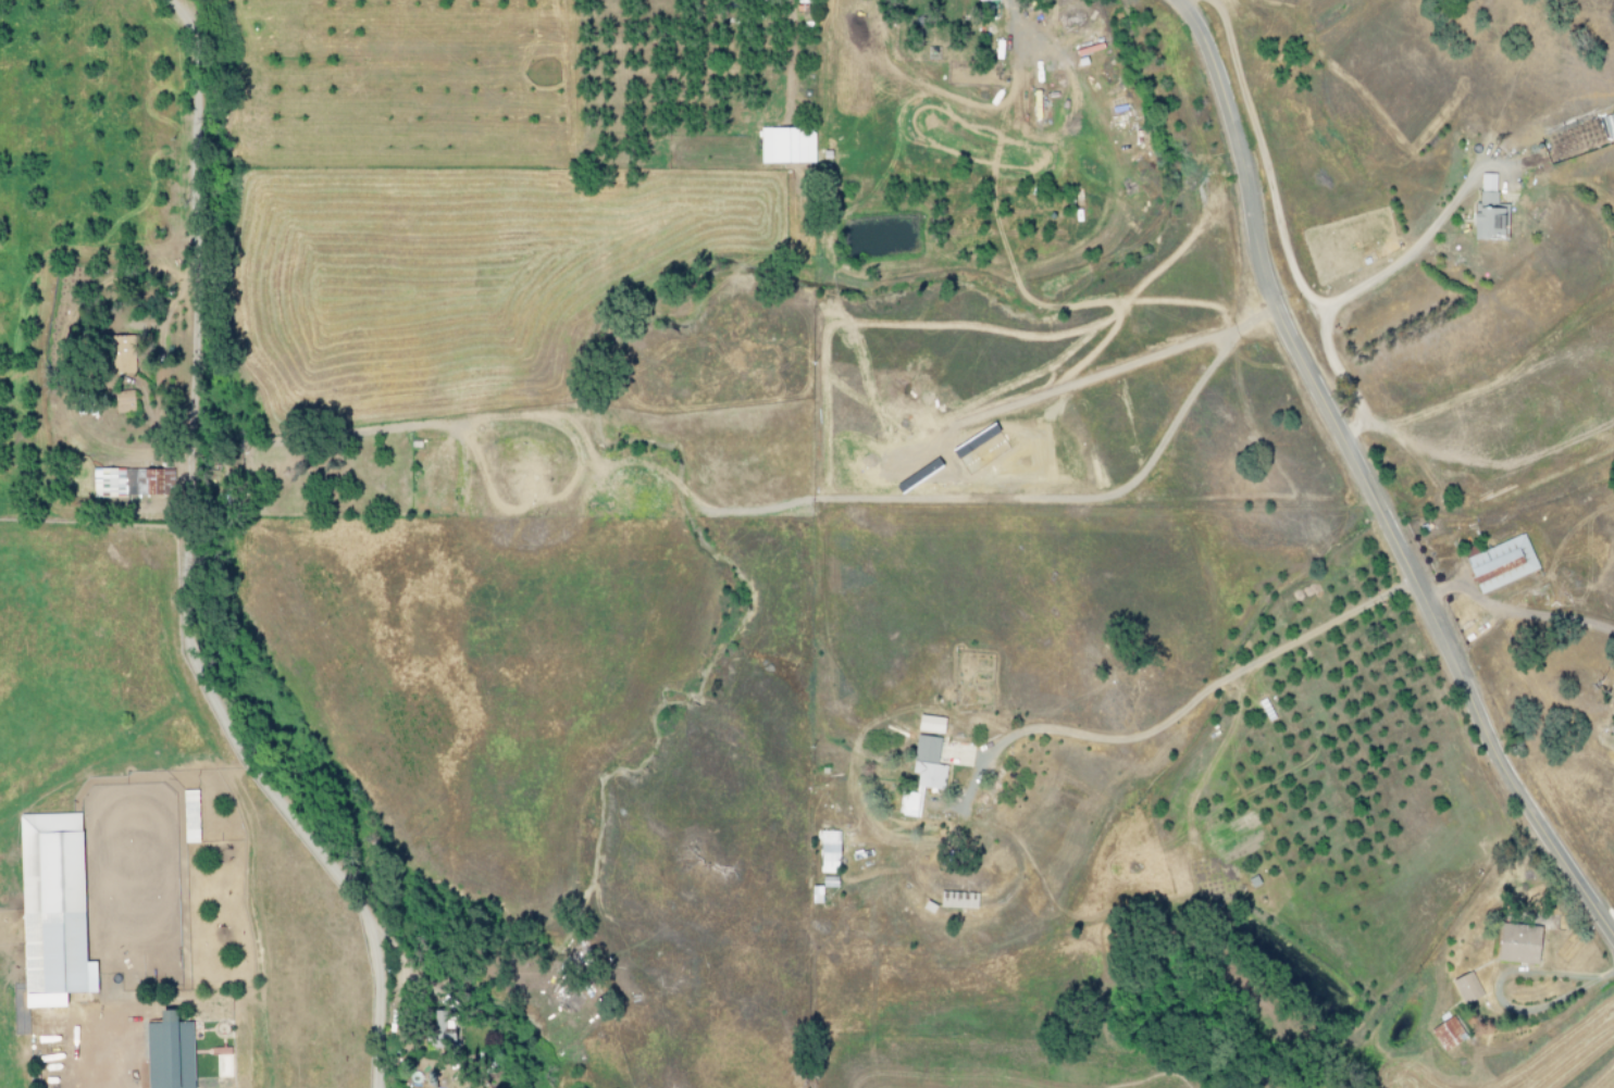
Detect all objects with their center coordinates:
building: (784, 146)
building: (1487, 211)
road: (1392, 265)
building: (115, 353)
building: (120, 401)
building: (125, 482)
road: (1363, 482)
road: (182, 528)
building: (1498, 563)
building: (1612, 724)
building: (920, 774)
road: (965, 798)
building: (187, 816)
building: (827, 852)
building: (827, 881)
building: (814, 895)
building: (955, 900)
building: (49, 910)
building: (1515, 946)
building: (1464, 988)
building: (439, 1028)
building: (1445, 1034)
road: (375, 1047)
building: (166, 1052)
road: (96, 1065)

